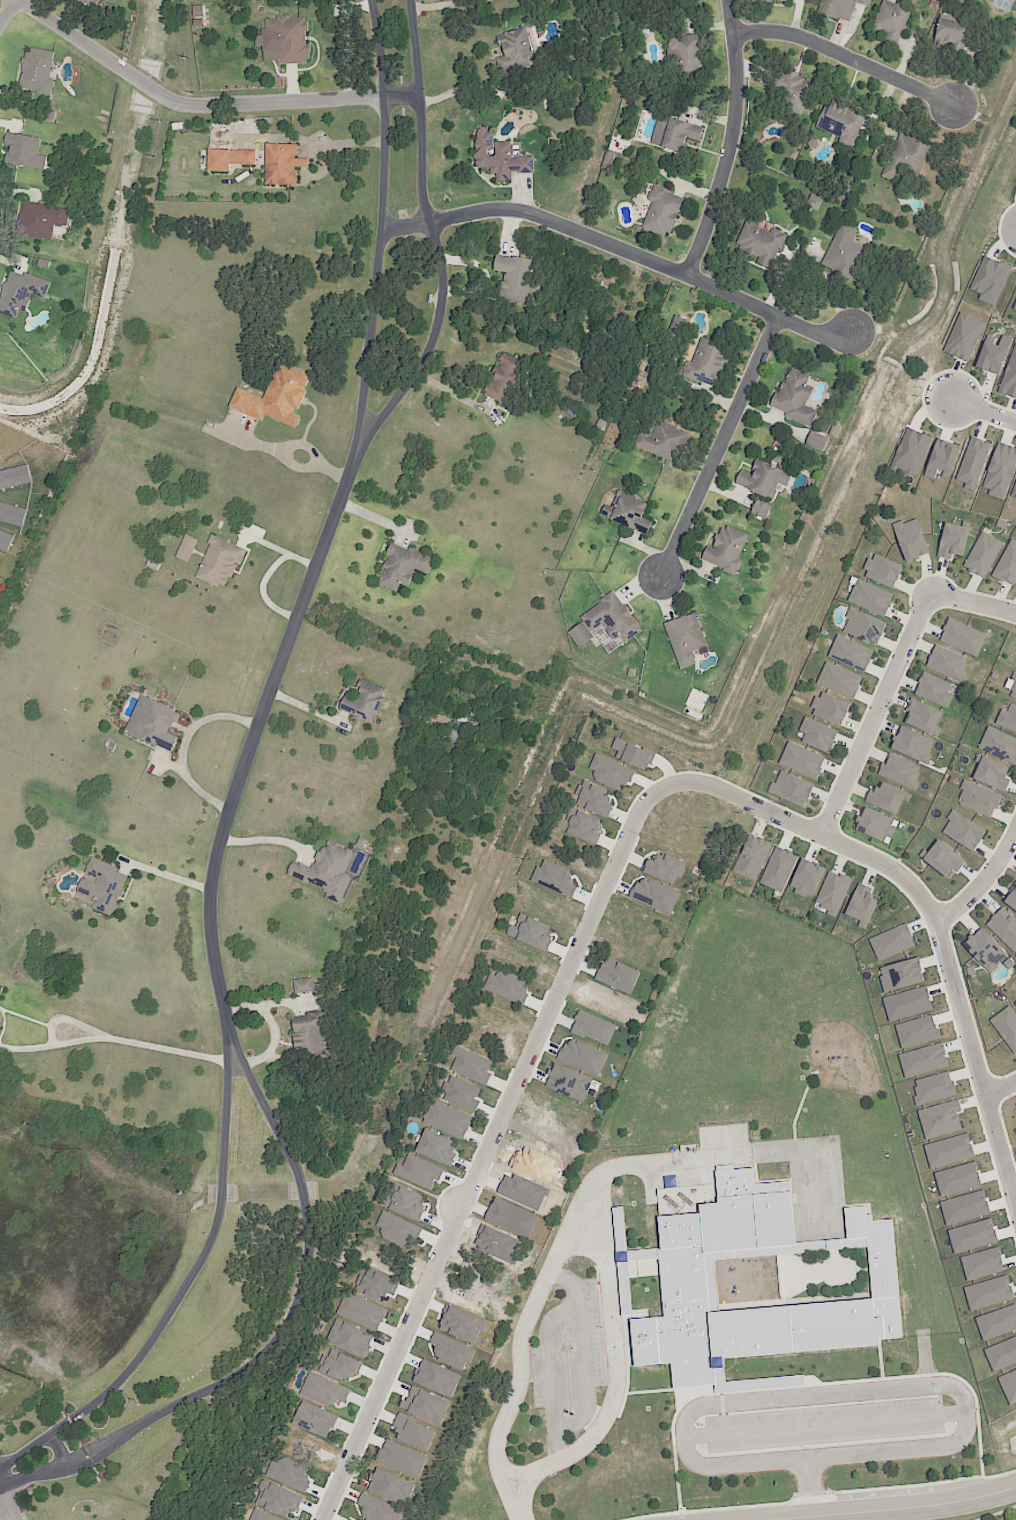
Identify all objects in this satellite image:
building: (114, 1)
building: (773, 1)
building: (83, 4)
road: (444, 5)
building: (843, 8)
building: (197, 11)
road: (8, 12)
road: (796, 17)
building: (894, 20)
road: (707, 25)
building: (955, 36)
road: (838, 37)
building: (292, 39)
building: (517, 52)
building: (689, 57)
road: (847, 59)
road: (904, 60)
road: (753, 70)
building: (40, 71)
road: (972, 78)
road: (294, 86)
road: (457, 90)
building: (793, 90)
road: (203, 107)
road: (881, 108)
road: (895, 116)
road: (710, 119)
building: (846, 123)
building: (678, 133)
road: (731, 142)
road: (349, 145)
building: (23, 151)
building: (502, 158)
building: (230, 159)
building: (906, 159)
building: (285, 164)
road: (687, 189)
road: (681, 192)
road: (524, 195)
building: (817, 202)
building: (665, 211)
building: (43, 221)
road: (512, 230)
road: (381, 243)
building: (764, 245)
road: (621, 252)
road: (441, 253)
building: (848, 254)
road: (807, 268)
road: (485, 278)
road: (780, 280)
road: (826, 280)
building: (990, 280)
building: (518, 281)
building: (22, 293)
building: (1014, 307)
building: (963, 337)
building: (993, 354)
building: (711, 363)
building: (1009, 377)
building: (510, 380)
road: (451, 393)
building: (278, 398)
road: (712, 398)
building: (799, 399)
road: (983, 410)
road: (761, 416)
building: (667, 441)
building: (816, 441)
road: (240, 443)
road: (305, 448)
road: (720, 449)
building: (910, 452)
building: (941, 460)
building: (972, 463)
road: (296, 469)
building: (1000, 470)
road: (877, 473)
road: (334, 476)
building: (768, 479)
building: (1014, 491)
road: (727, 495)
building: (760, 509)
building: (631, 513)
road: (373, 518)
building: (915, 543)
building: (957, 544)
building: (186, 548)
building: (731, 550)
road: (279, 551)
road: (648, 552)
building: (985, 557)
building: (223, 562)
building: (408, 566)
building: (1008, 569)
road: (693, 570)
building: (887, 575)
road: (643, 587)
road: (265, 590)
road: (666, 598)
road: (972, 601)
building: (875, 602)
building: (608, 622)
building: (869, 630)
building: (687, 639)
building: (966, 640)
building: (854, 656)
building: (950, 667)
building: (842, 683)
building: (1012, 686)
building: (938, 695)
building: (369, 703)
road: (311, 711)
building: (834, 713)
road: (875, 714)
building: (1006, 715)
building: (927, 720)
building: (161, 727)
building: (821, 737)
road: (254, 741)
building: (998, 741)
road: (186, 747)
building: (917, 747)
building: (632, 754)
building: (805, 763)
building: (988, 766)
road: (170, 767)
building: (610, 773)
building: (904, 775)
building: (797, 794)
building: (593, 799)
building: (890, 801)
building: (981, 801)
building: (581, 826)
building: (879, 829)
building: (963, 831)
road: (270, 841)
building: (756, 862)
building: (946, 864)
building: (328, 873)
building: (669, 874)
building: (782, 874)
road: (165, 876)
building: (554, 878)
building: (811, 883)
road: (984, 885)
building: (108, 887)
building: (654, 895)
building: (836, 898)
building: (1014, 905)
building: (868, 909)
road: (932, 914)
building: (1006, 930)
building: (530, 932)
building: (894, 945)
building: (990, 954)
park: (740, 969)
building: (901, 975)
building: (618, 976)
building: (306, 985)
building: (507, 987)
building: (2, 991)
building: (1015, 1004)
road: (260, 1006)
building: (493, 1012)
building: (1, 1022)
road: (71, 1022)
building: (592, 1026)
building: (1006, 1027)
road: (275, 1029)
building: (916, 1031)
building: (312, 1038)
road: (115, 1041)
building: (582, 1057)
road: (263, 1058)
building: (922, 1060)
building: (471, 1066)
park: (697, 1079)
building: (568, 1081)
road: (1001, 1087)
building: (933, 1088)
building: (460, 1094)
building: (447, 1119)
building: (940, 1119)
building: (1015, 1131)
road: (491, 1143)
building: (948, 1151)
building: (441, 1152)
building: (533, 1163)
road: (632, 1166)
building: (418, 1171)
building: (957, 1179)
building: (407, 1204)
building: (964, 1207)
building: (398, 1229)
building: (972, 1236)
building: (856, 1242)
road: (207, 1251)
building: (982, 1264)
building: (686, 1280)
road: (301, 1293)
building: (988, 1293)
building: (361, 1311)
building: (997, 1322)
building: (350, 1338)
road: (583, 1352)
building: (1002, 1354)
road: (925, 1359)
parking lot: (568, 1361)
building: (347, 1370)
road: (548, 1373)
road: (519, 1384)
road: (616, 1386)
building: (1009, 1386)
building: (326, 1393)
road: (826, 1397)
building: (319, 1420)
parking lot: (825, 1425)
road: (824, 1426)
building: (413, 1433)
road: (60, 1452)
road: (23, 1454)
building: (401, 1459)
road: (510, 1471)
building: (289, 1473)
road: (34, 1477)
road: (803, 1479)
building: (390, 1486)
road: (815, 1486)
building: (277, 1499)
building: (377, 1509)
road: (905, 1510)
road: (3, 1511)
road: (1001, 1513)
building: (262, 1516)
building: (244, 1519)

